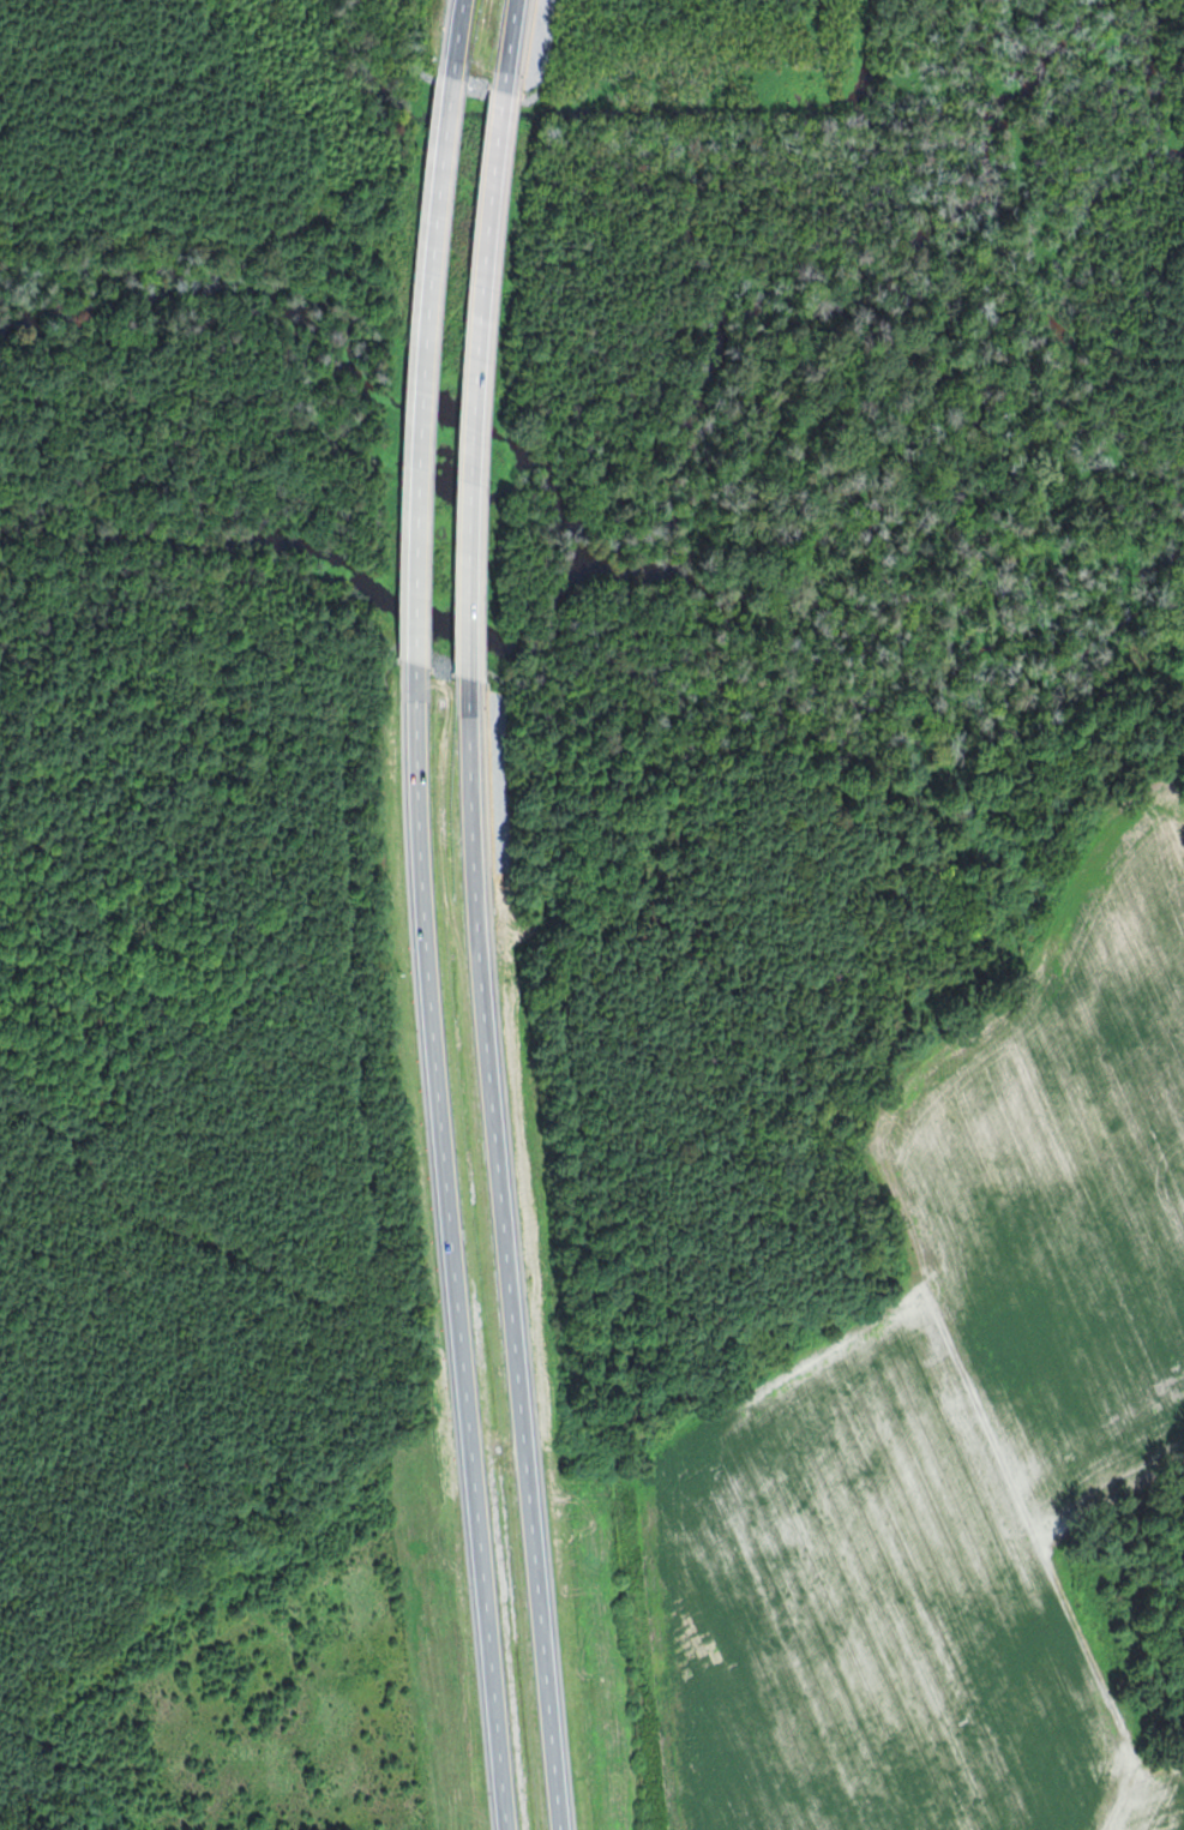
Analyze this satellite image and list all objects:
road: (432, 914)
road: (494, 914)

